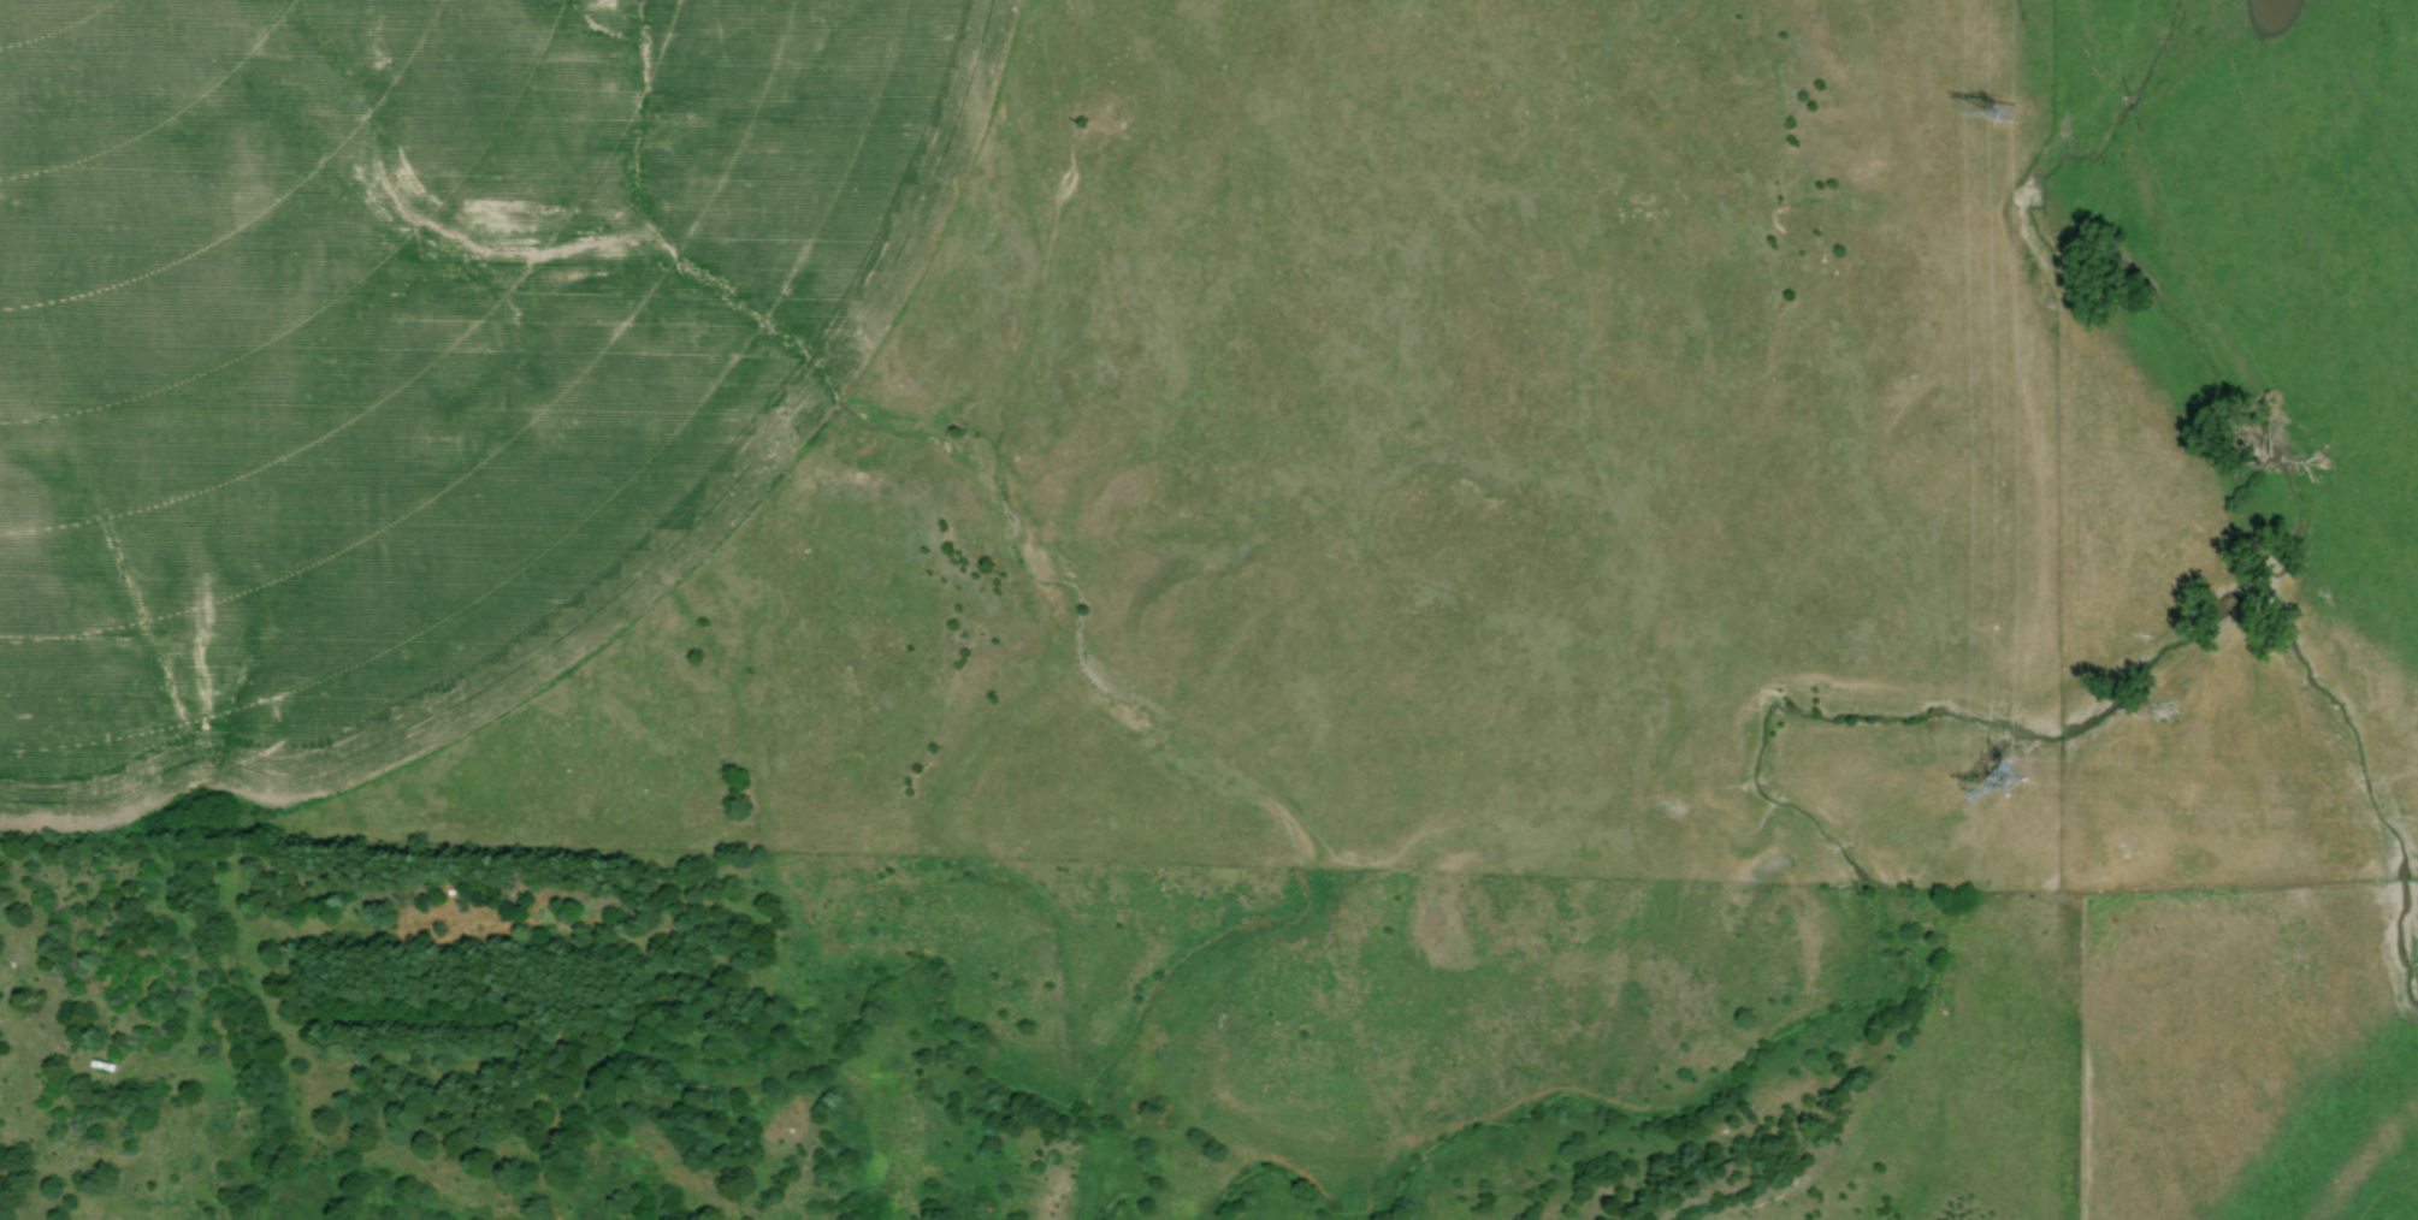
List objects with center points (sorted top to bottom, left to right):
power tower: (1999, 114)
power tower: (2005, 781)

